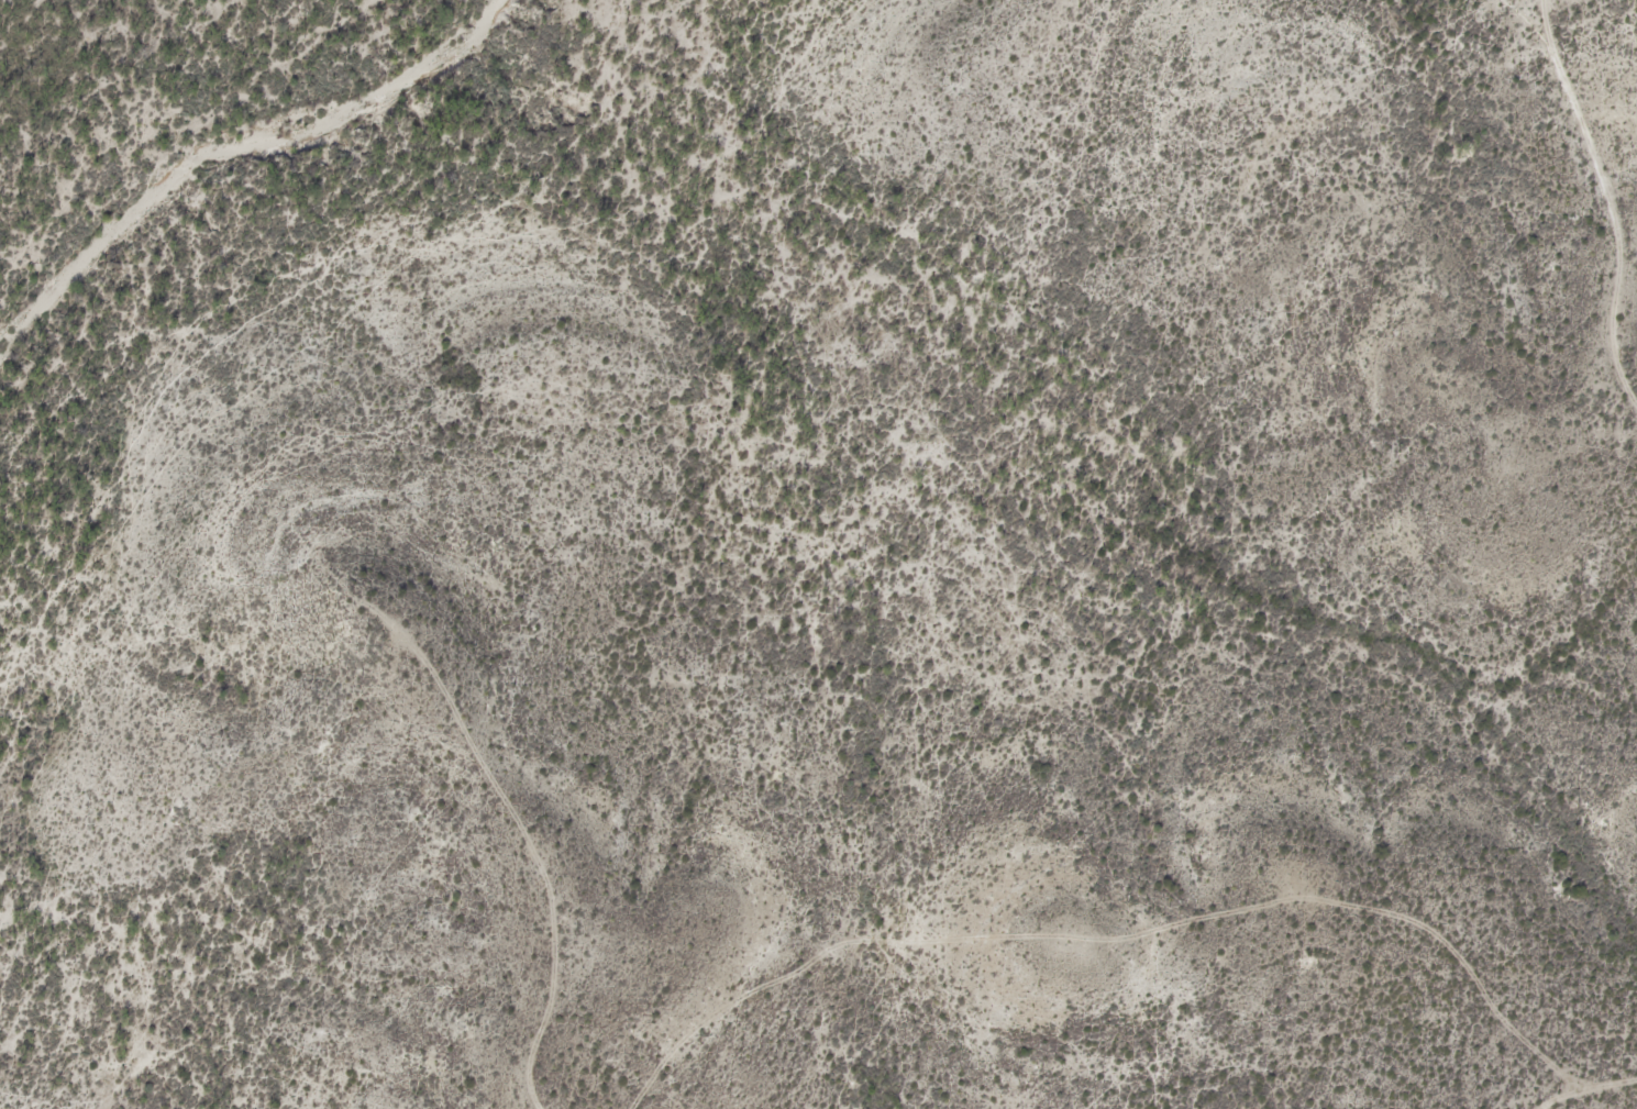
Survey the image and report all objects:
road: (1618, 192)
road: (1592, 1089)

